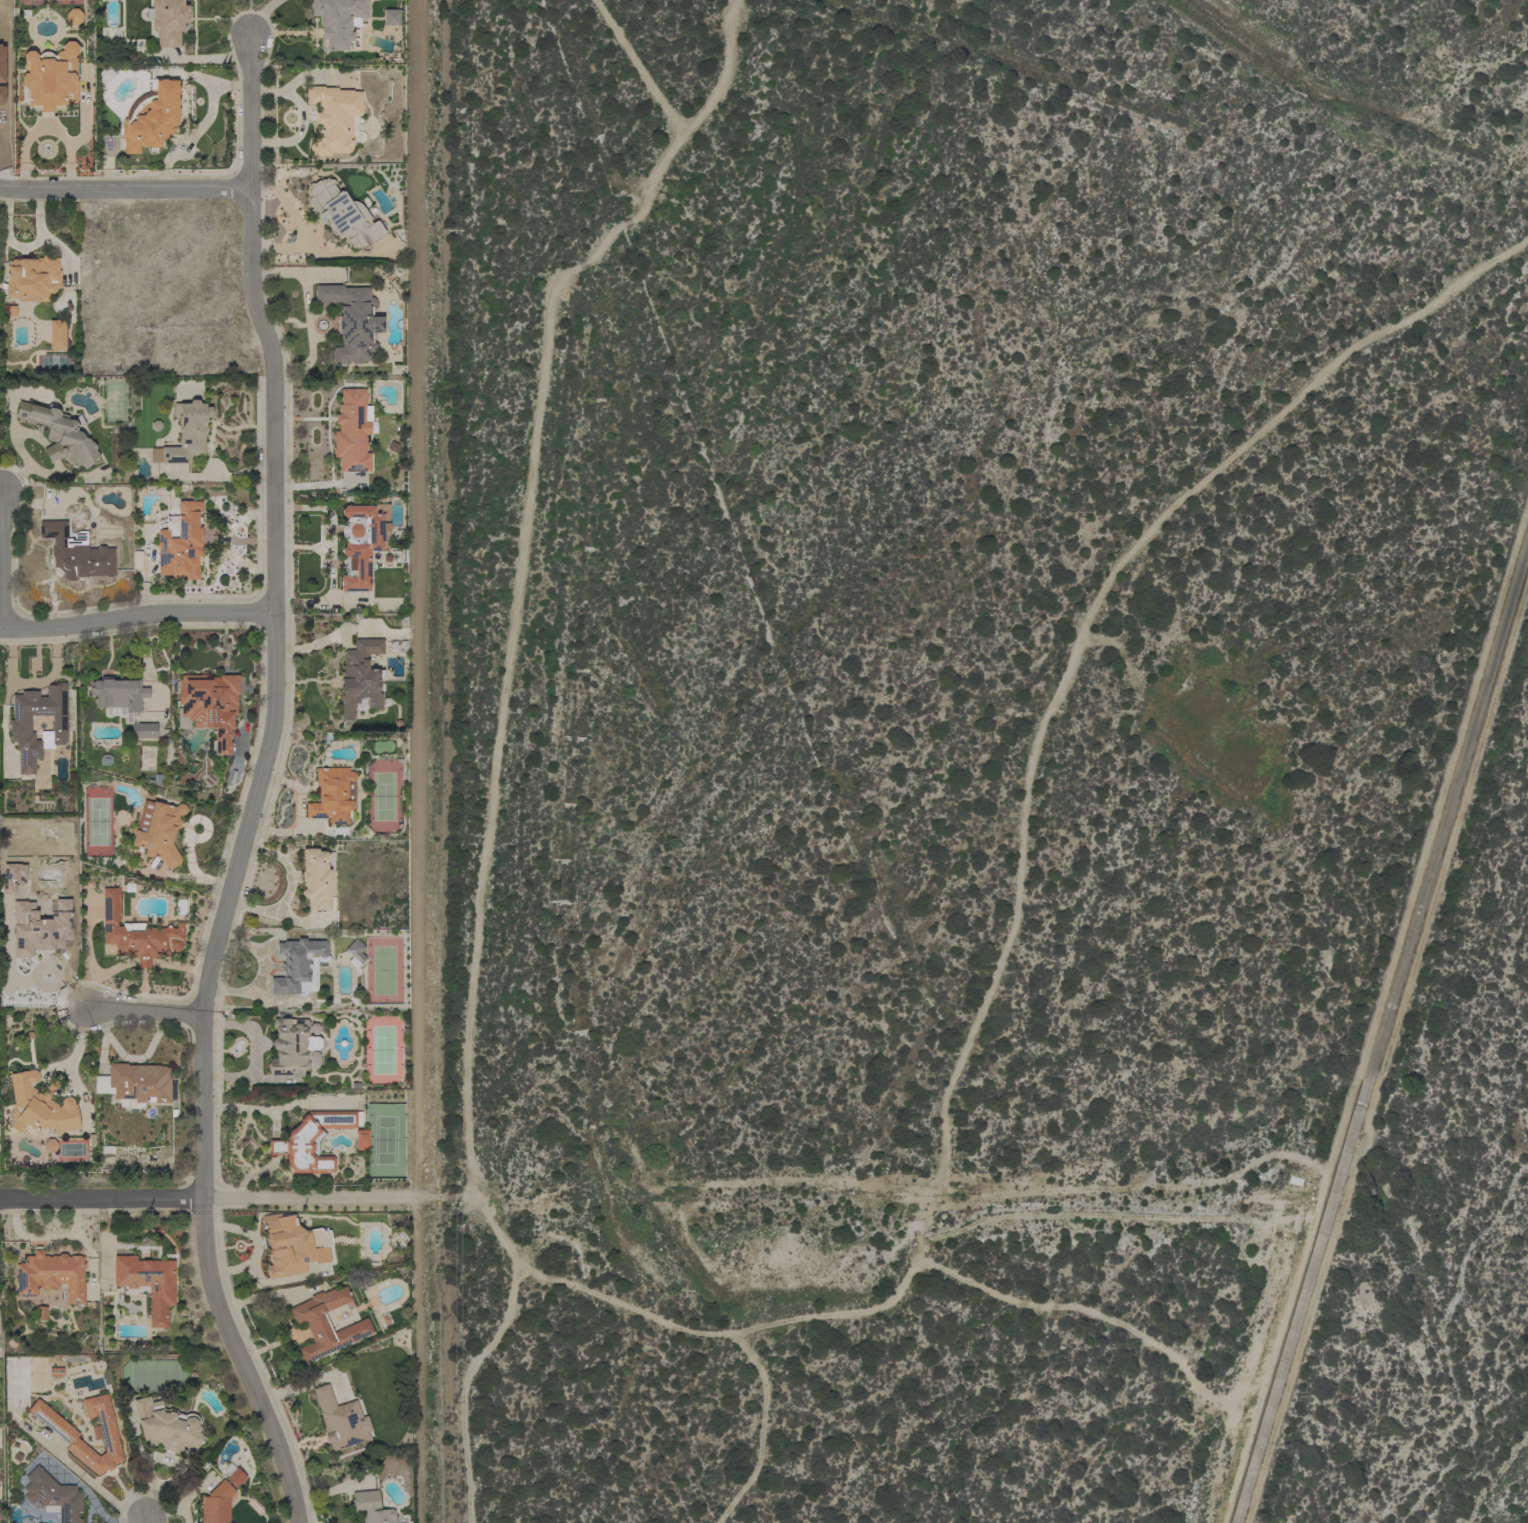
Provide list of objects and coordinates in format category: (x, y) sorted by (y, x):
building: (72, 16)
building: (390, 17)
building: (167, 20)
building: (337, 21)
road: (215, 58)
road: (169, 59)
building: (50, 78)
building: (151, 118)
building: (332, 119)
road: (122, 188)
building: (342, 214)
building: (31, 279)
building: (8, 311)
building: (352, 322)
building: (56, 334)
building: (352, 430)
building: (59, 434)
building: (185, 434)
building: (181, 542)
building: (361, 543)
building: (75, 552)
road: (3, 558)
road: (137, 614)
building: (360, 678)
building: (122, 703)
building: (208, 706)
building: (19, 725)
road: (260, 788)
building: (332, 795)
building: (158, 831)
building: (10, 876)
building: (318, 880)
building: (37, 926)
building: (136, 933)
building: (355, 952)
building: (298, 966)
road: (144, 1011)
building: (291, 1047)
building: (136, 1084)
building: (39, 1106)
building: (361, 1139)
building: (312, 1140)
building: (48, 1145)
road: (215, 1201)
building: (292, 1245)
building: (51, 1275)
building: (147, 1284)
road: (267, 1294)
building: (326, 1323)
building: (340, 1420)
building: (167, 1426)
building: (67, 1436)
building: (232, 1474)
building: (52, 1495)
building: (216, 1504)
building: (372, 1508)
road: (147, 1520)
quarry: (1527, 1522)

